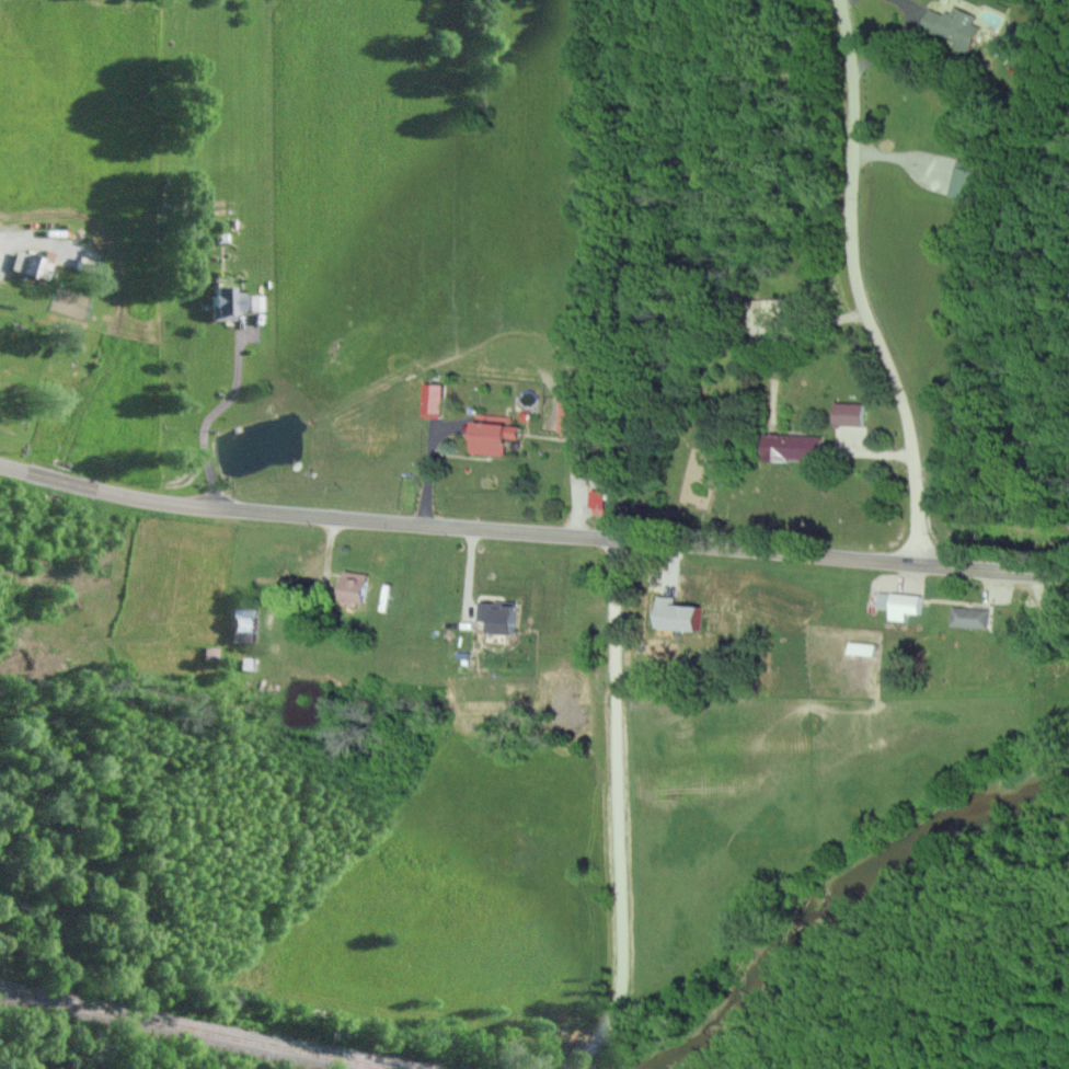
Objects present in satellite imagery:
building: (949, 26)
building: (963, 180)
building: (28, 264)
road: (857, 287)
building: (222, 301)
building: (430, 398)
building: (847, 414)
building: (567, 415)
building: (491, 435)
building: (791, 448)
road: (456, 528)
road: (993, 570)
building: (352, 587)
building: (898, 605)
building: (674, 616)
building: (495, 618)
building: (969, 618)
building: (241, 624)
building: (859, 650)
road: (619, 814)
river: (851, 888)
railway: (195, 1030)

